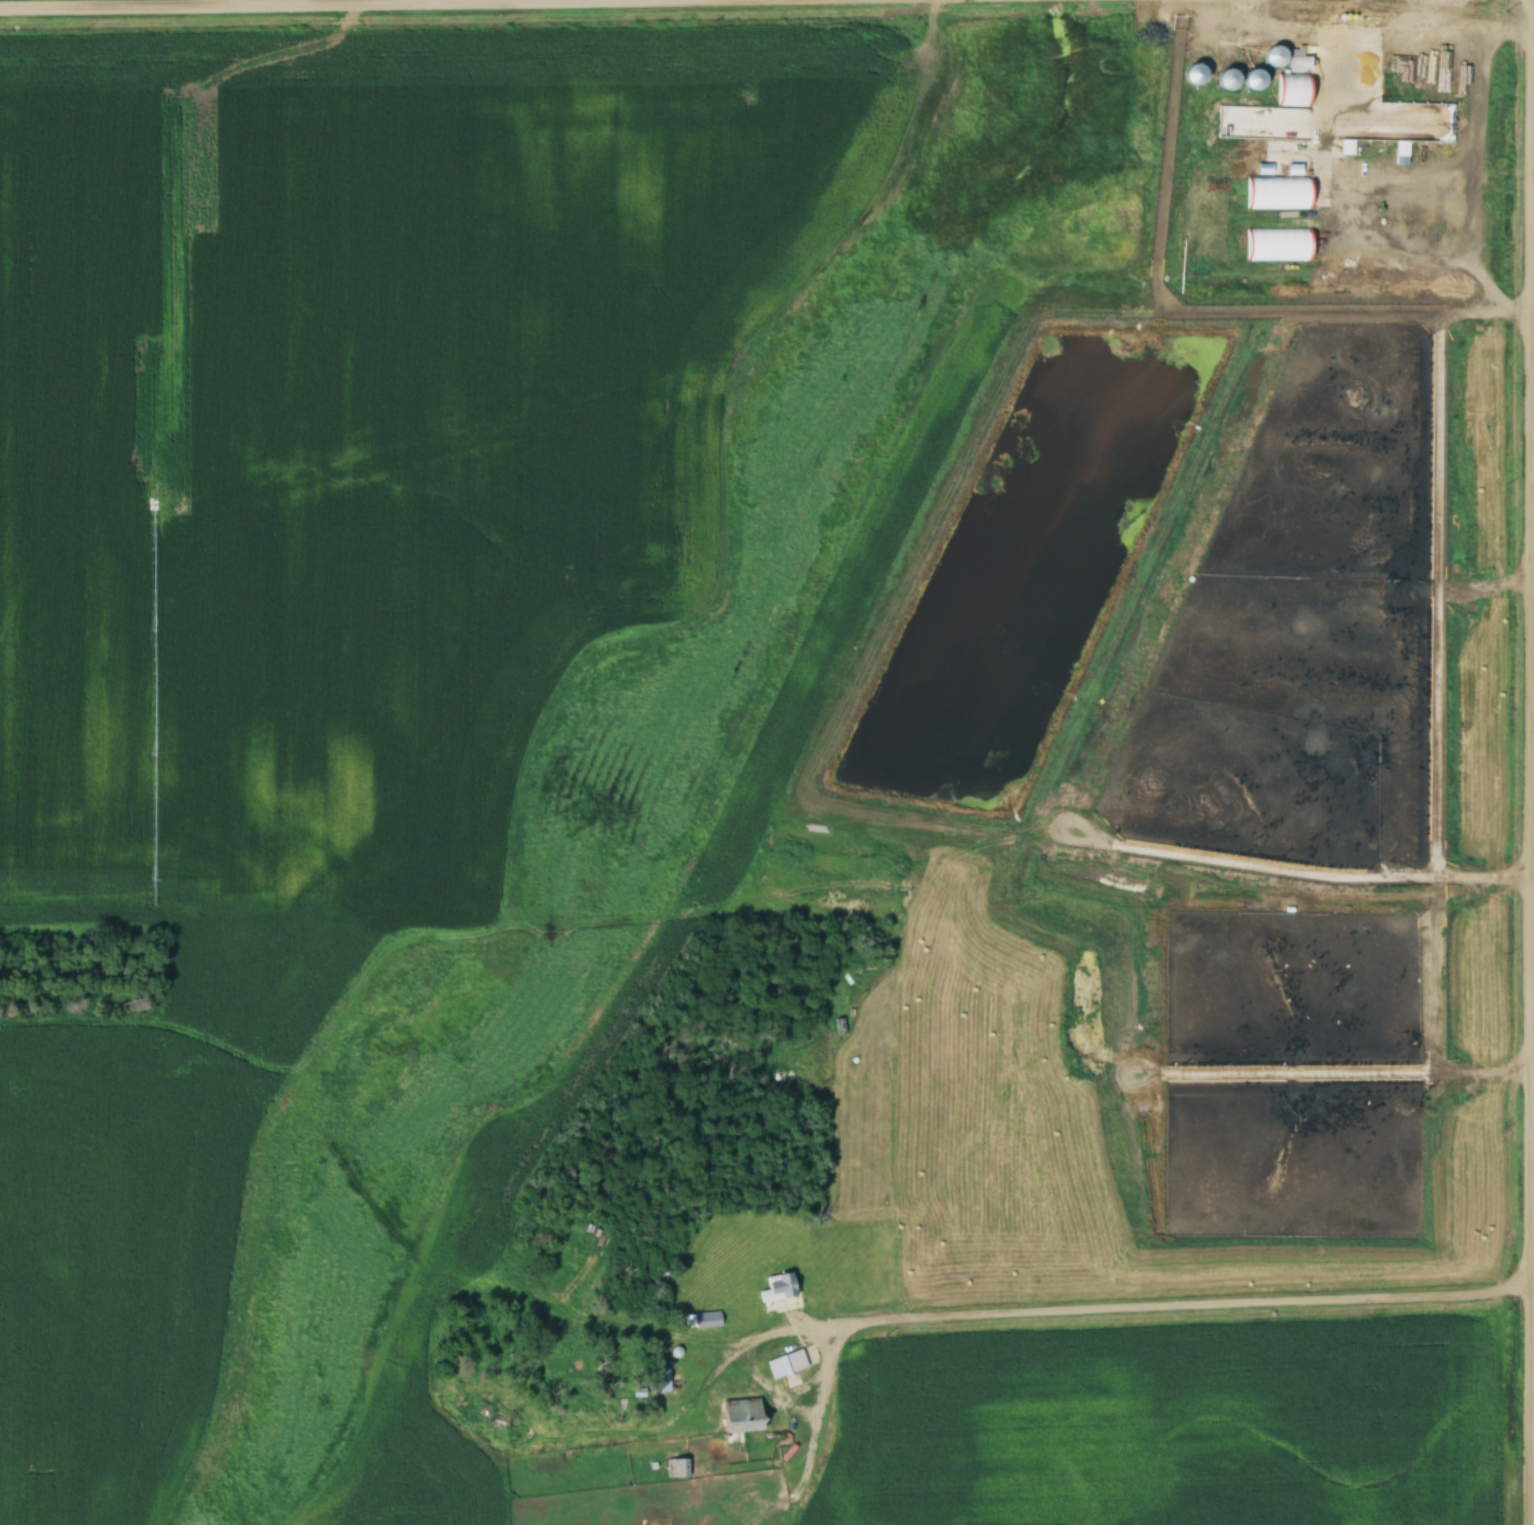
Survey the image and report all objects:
road: (384, 4)
road: (1419, 14)
road: (1376, 29)
building: (1275, 54)
building: (1298, 57)
building: (1255, 77)
building: (1229, 79)
road: (1350, 232)
road: (1530, 762)
building: (777, 1288)
road: (1155, 1305)
building: (707, 1319)
building: (786, 1363)
building: (660, 1380)
building: (741, 1415)

